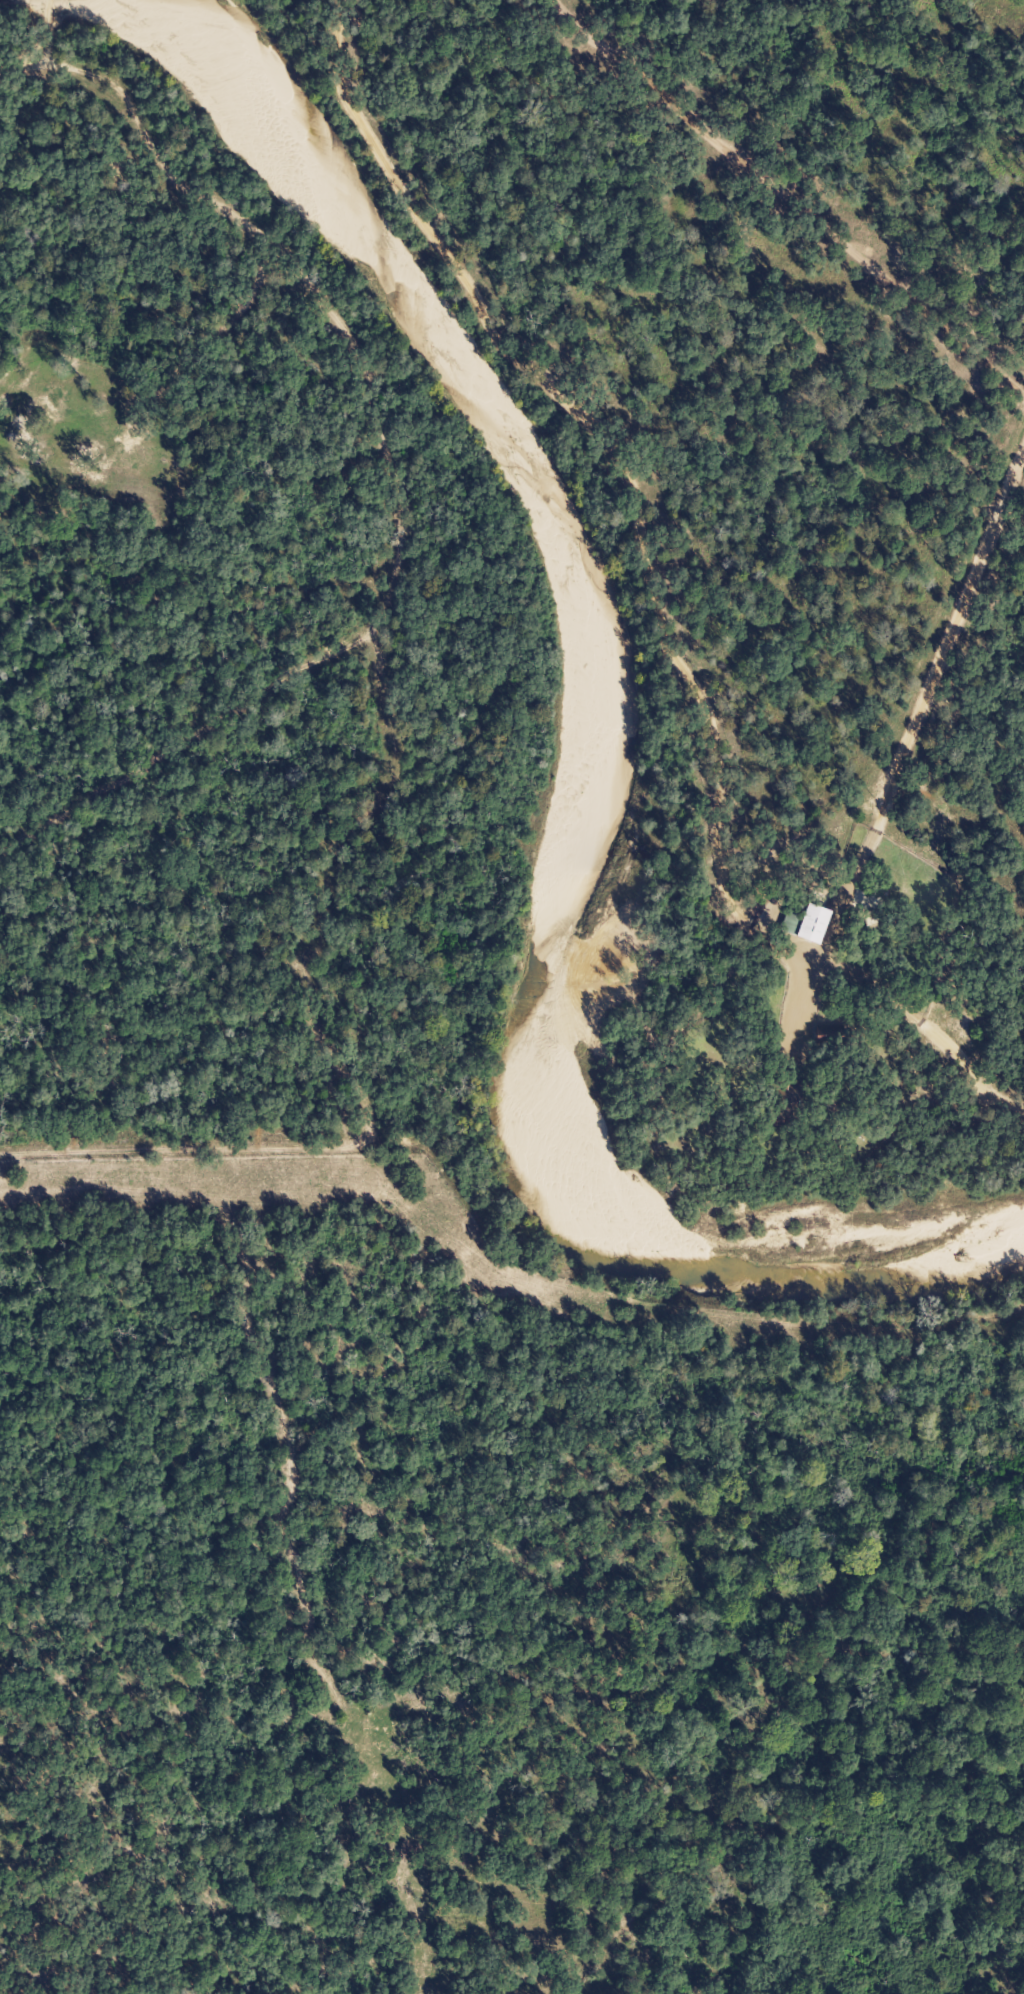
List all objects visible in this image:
building: (806, 921)
building: (828, 1035)

